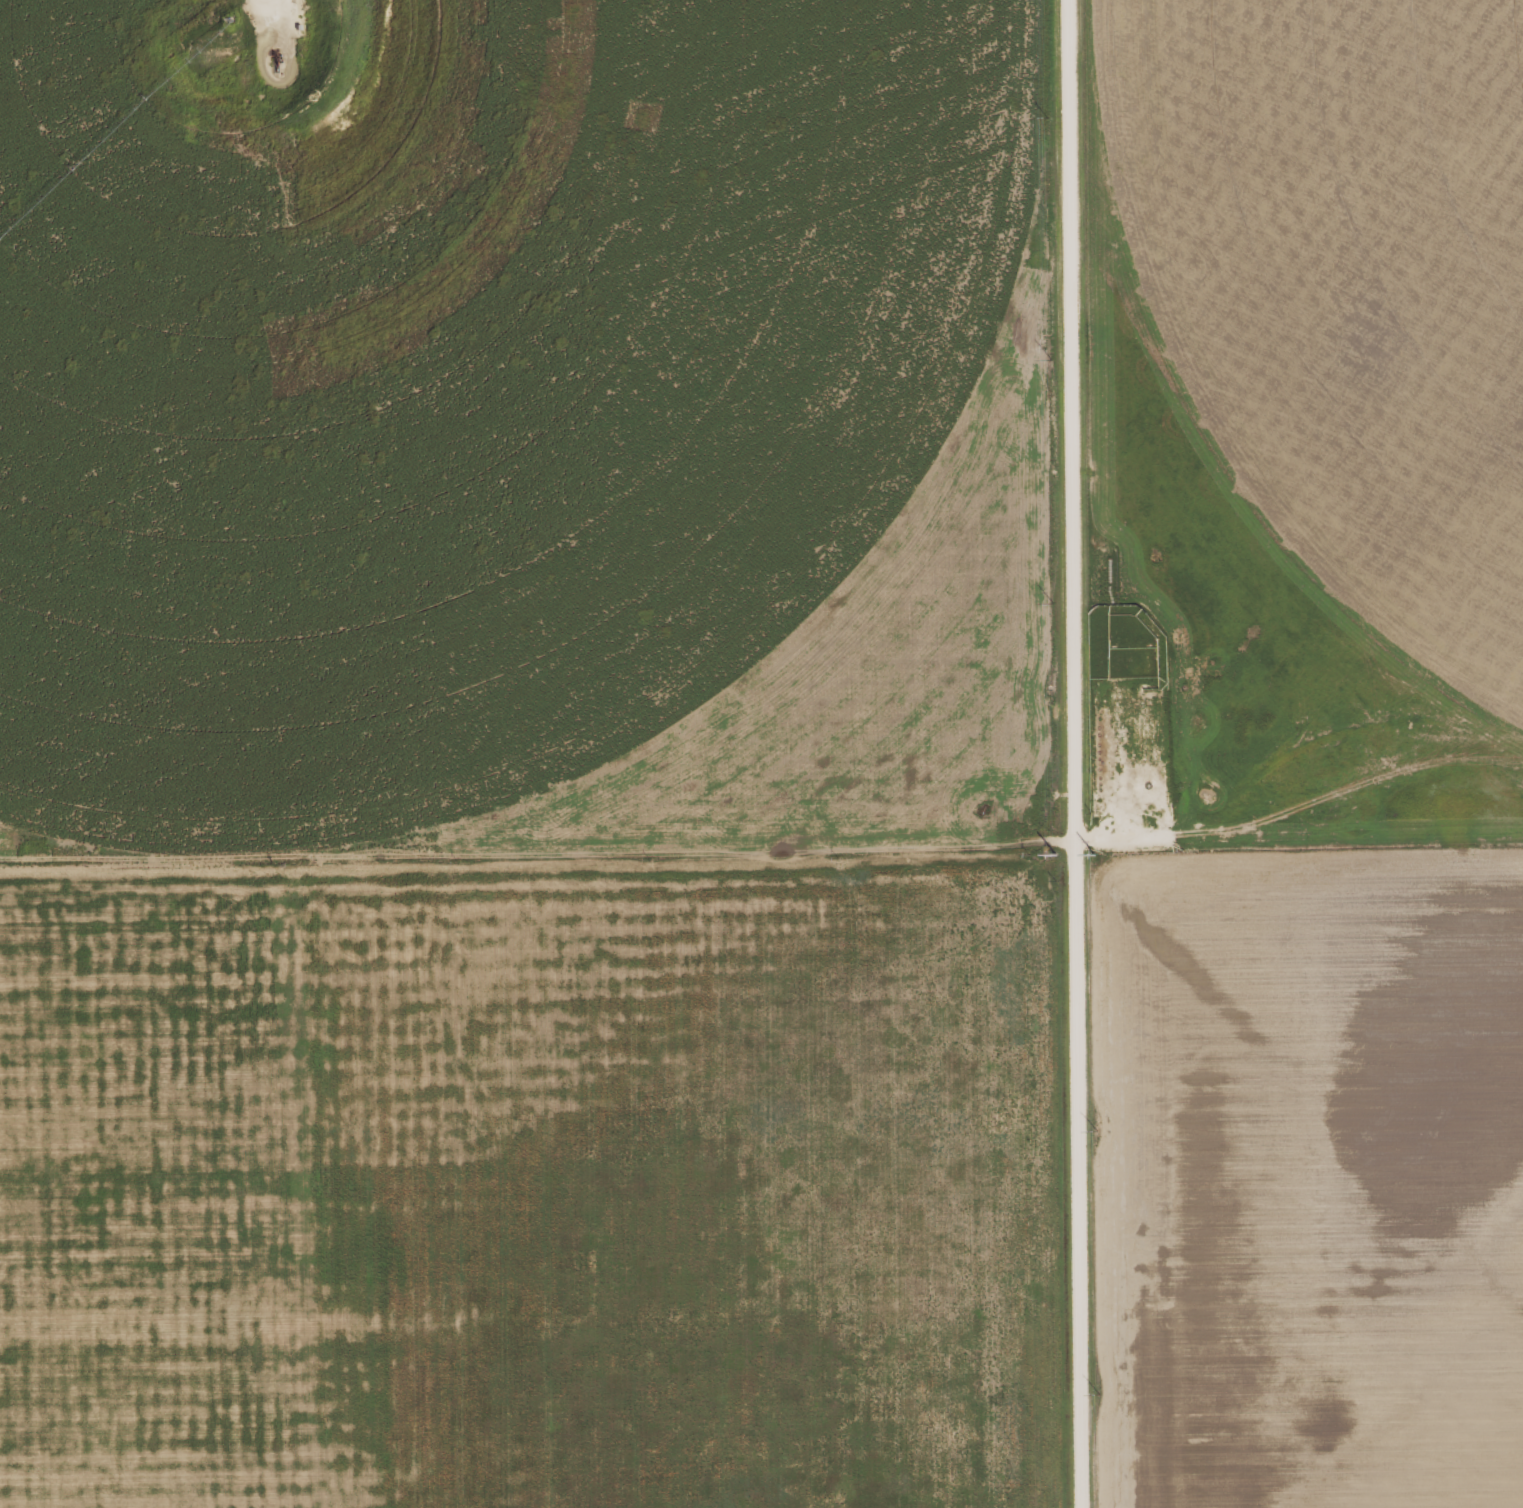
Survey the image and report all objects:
road: (1076, 754)

